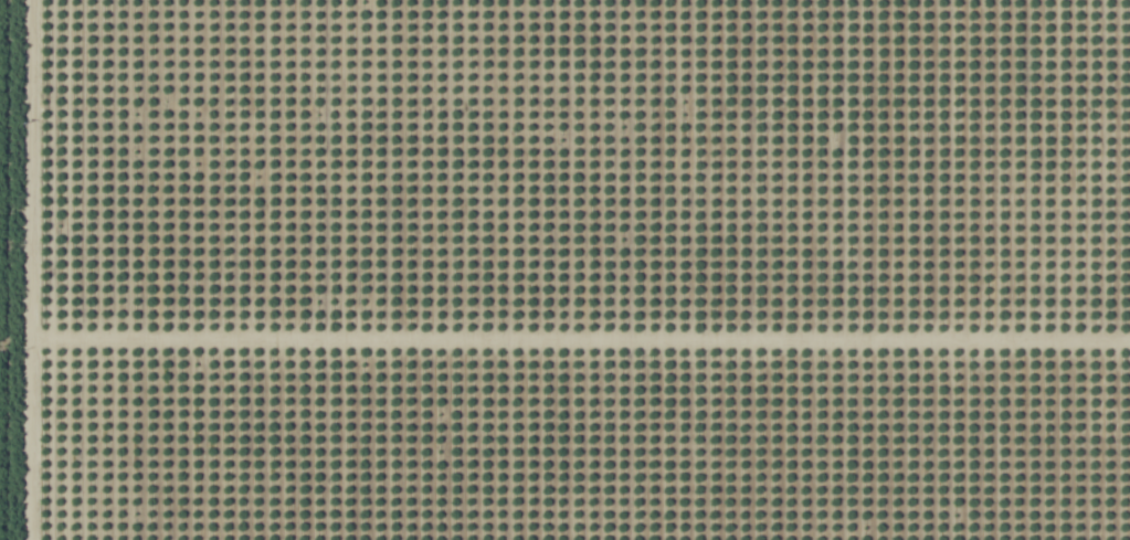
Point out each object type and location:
road: (54, 269)

